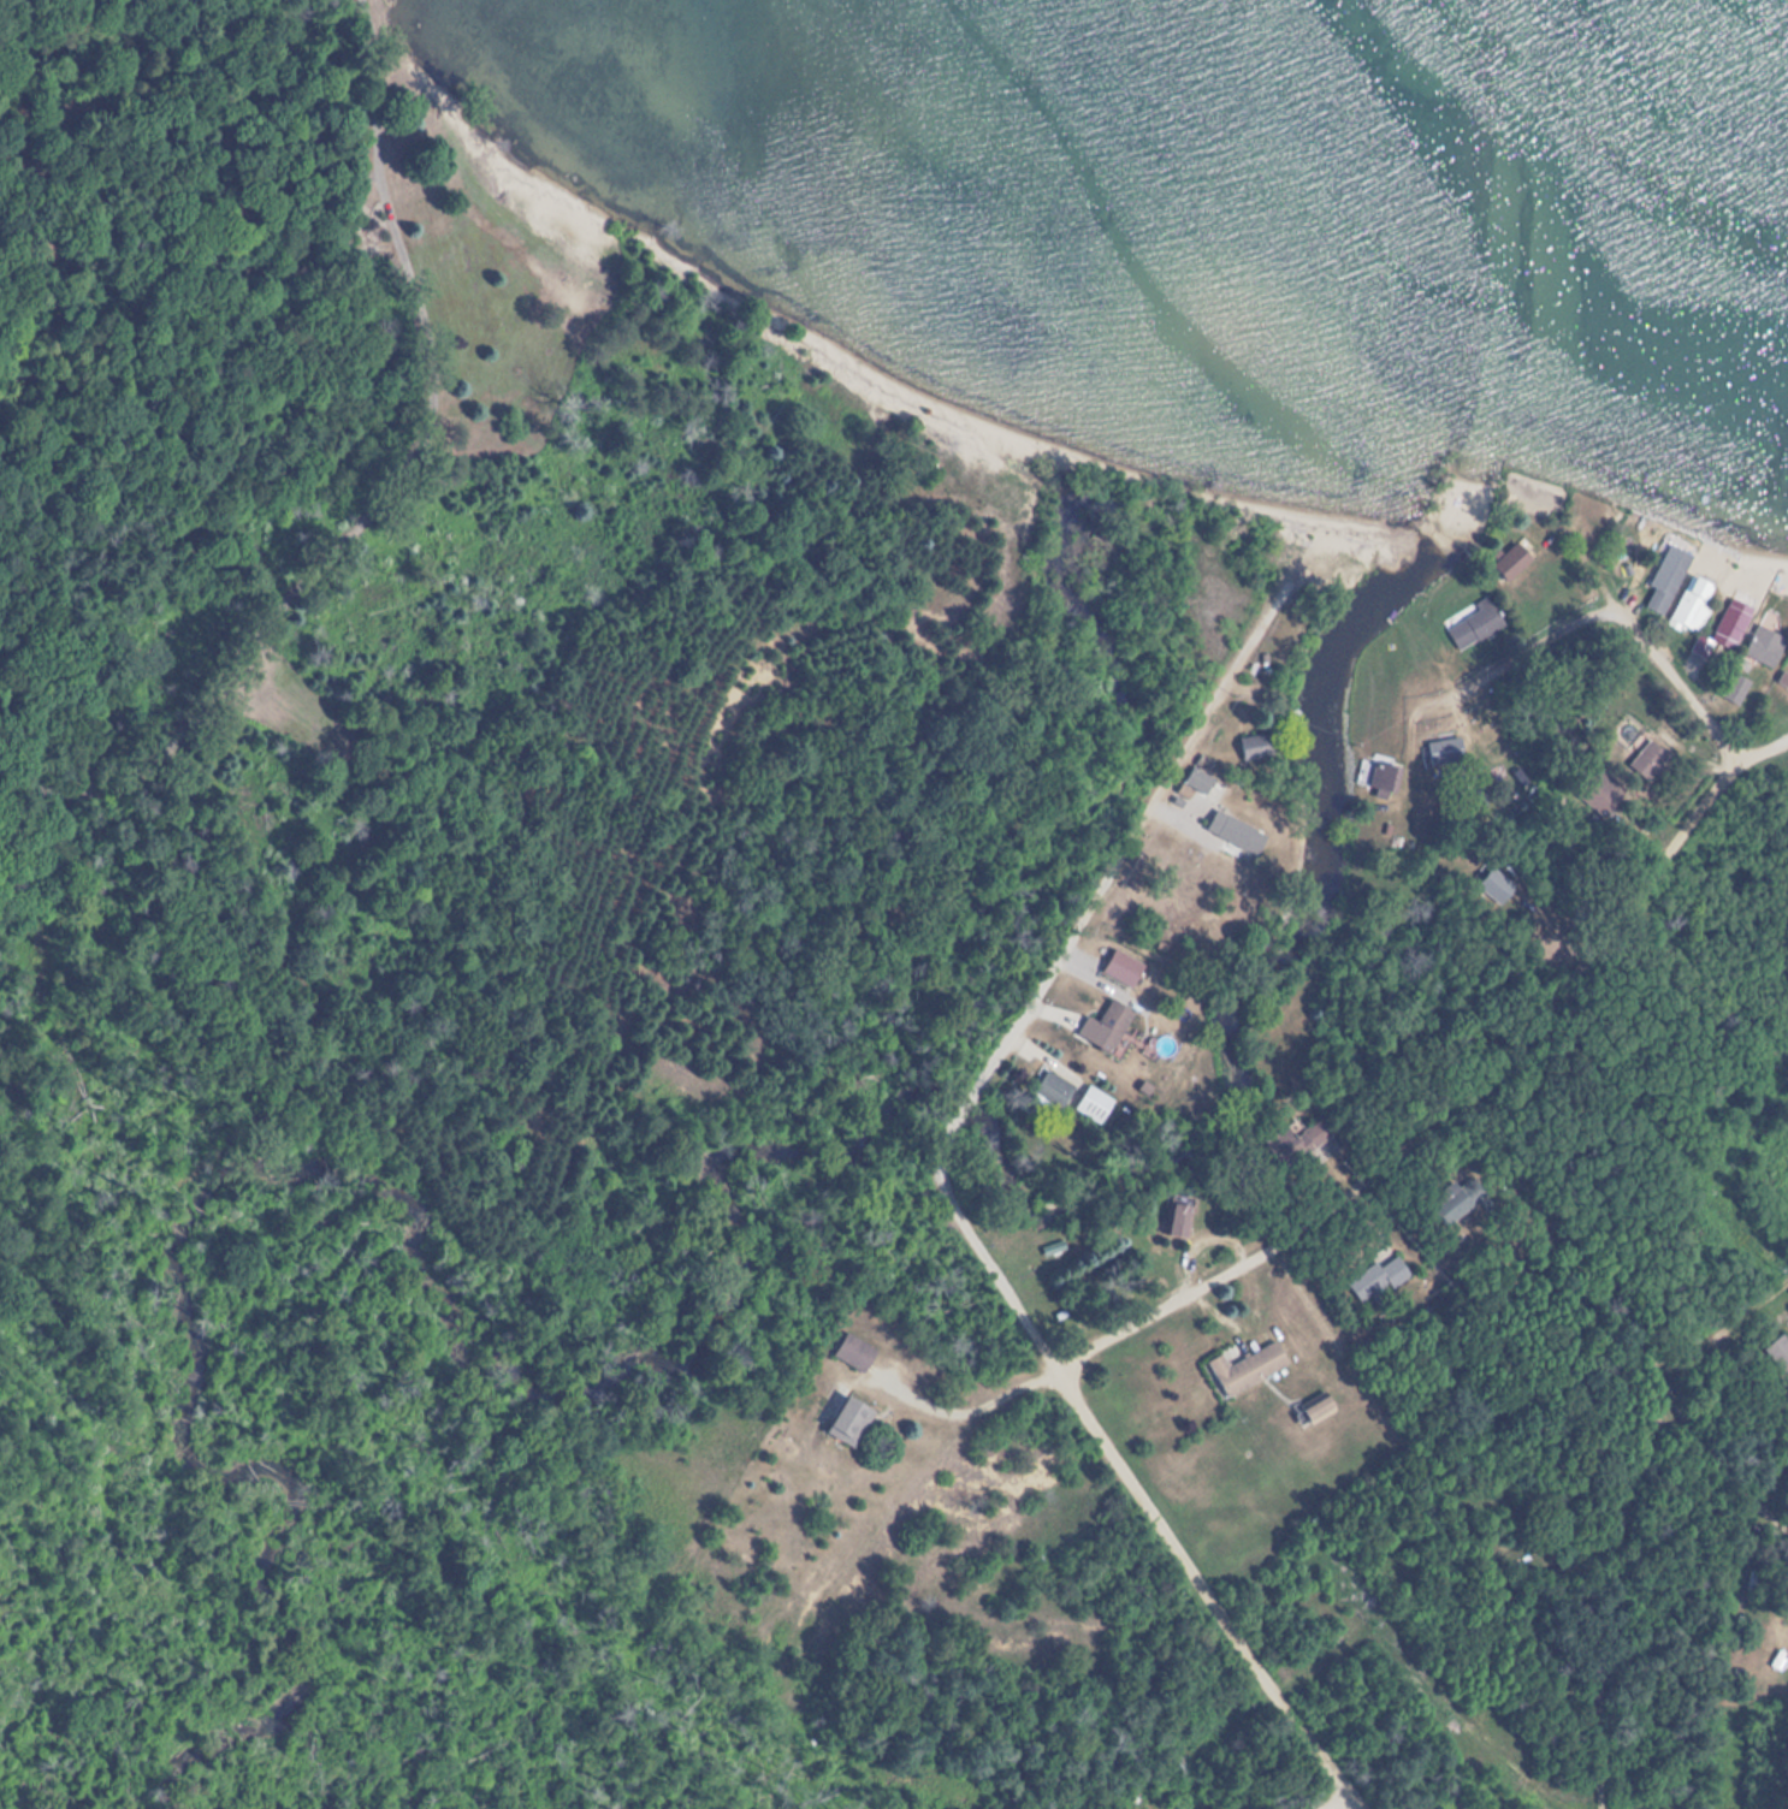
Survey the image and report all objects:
building: (1510, 561)
building: (1668, 576)
building: (1693, 606)
road: (1597, 607)
building: (1475, 624)
building: (1727, 628)
building: (1765, 646)
building: (1736, 689)
building: (1254, 747)
building: (1445, 753)
building: (1648, 761)
building: (1200, 775)
building: (1384, 781)
building: (1235, 832)
building: (1494, 884)
river: (1315, 929)
road: (1064, 942)
building: (1126, 965)
road: (1712, 984)
building: (1111, 1025)
building: (1049, 1093)
river: (966, 1095)
building: (1091, 1104)
building: (1315, 1134)
road: (1385, 1149)
river: (279, 1158)
building: (1454, 1202)
building: (1177, 1217)
building: (1378, 1282)
road: (1617, 1316)
building: (852, 1354)
building: (1778, 1354)
building: (1245, 1368)
building: (1314, 1408)
building: (845, 1422)
road: (1745, 1430)
road: (1421, 1476)
road: (1200, 1589)
road: (1612, 1596)
road: (1105, 1655)
road: (1325, 1798)

